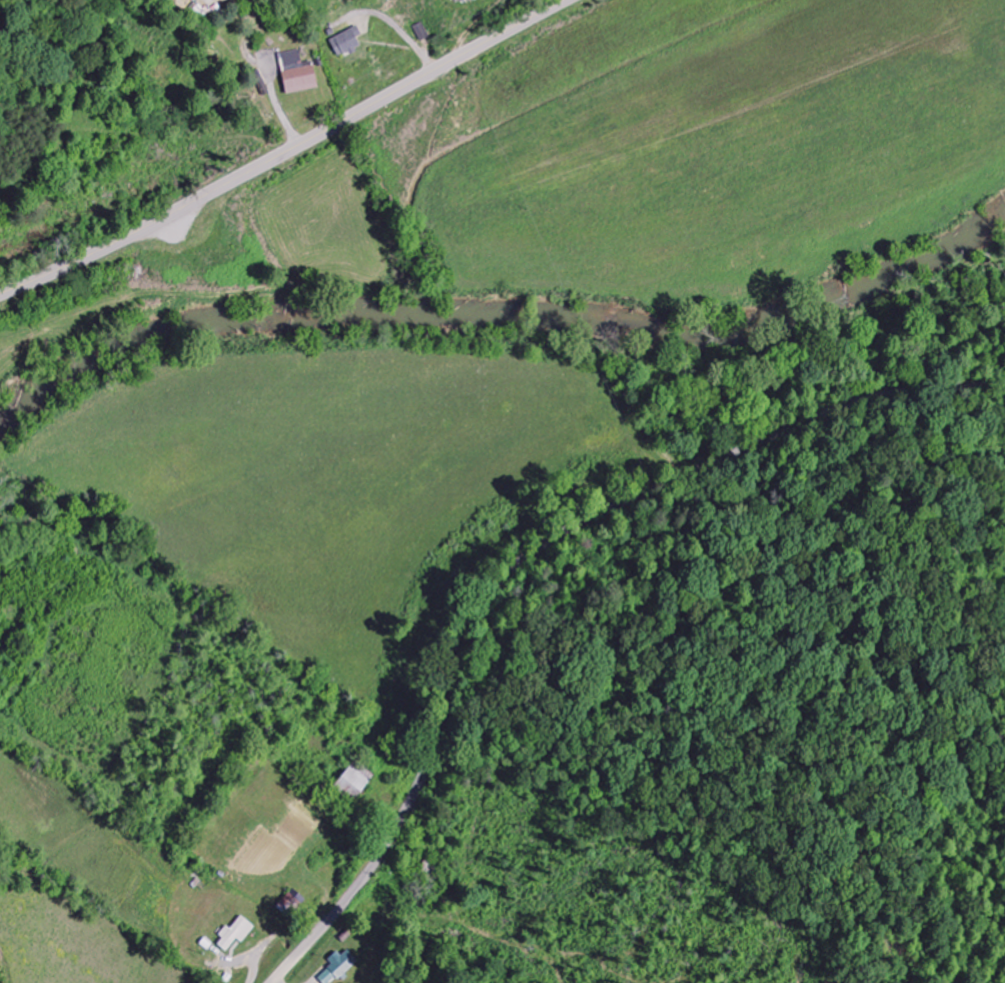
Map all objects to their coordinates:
building: (460, 0)
building: (422, 32)
building: (347, 43)
building: (298, 73)
road: (288, 154)
road: (536, 558)
building: (353, 785)
building: (292, 905)
building: (237, 934)
building: (339, 967)

